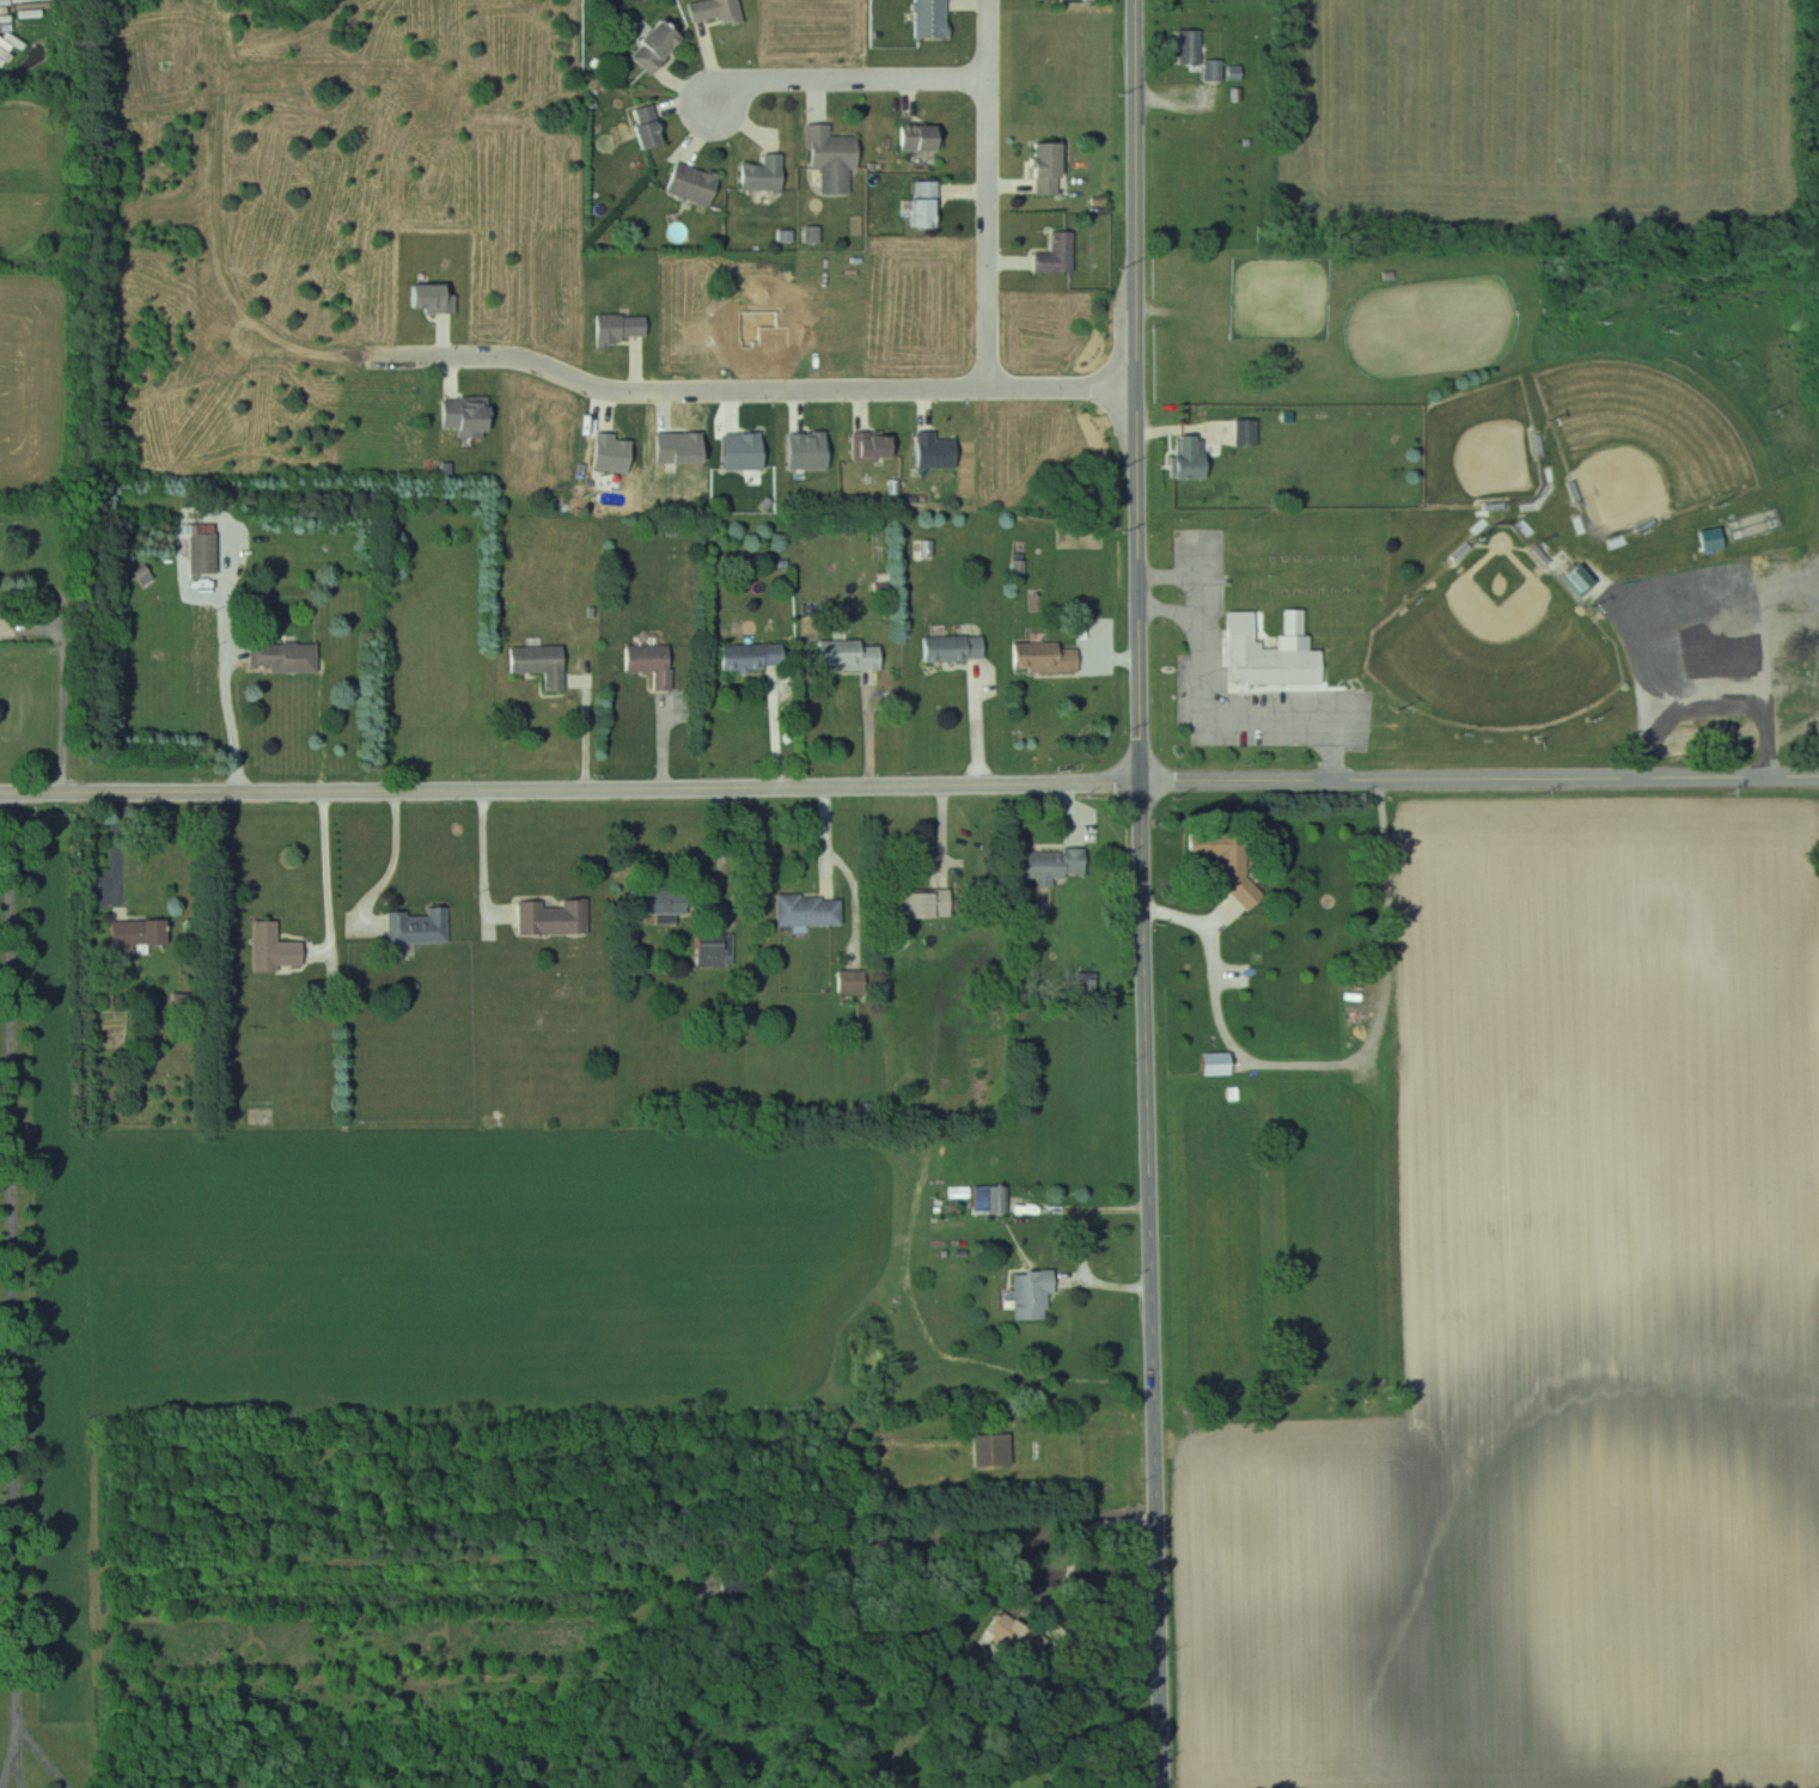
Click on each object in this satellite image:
building: (708, 11)
building: (927, 19)
building: (651, 44)
road: (987, 45)
building: (1186, 47)
building: (1211, 71)
building: (1232, 72)
road: (860, 91)
building: (642, 128)
building: (914, 138)
building: (829, 158)
building: (1040, 167)
building: (761, 175)
building: (689, 184)
building: (920, 206)
road: (988, 244)
building: (1054, 256)
building: (627, 330)
road: (1137, 391)
road: (751, 401)
building: (474, 416)
building: (1244, 432)
building: (1185, 457)
building: (1709, 539)
building: (206, 551)
building: (1576, 578)
road: (1699, 596)
road: (1200, 608)
building: (958, 647)
building: (855, 654)
building: (288, 655)
building: (757, 655)
building: (1270, 655)
building: (1050, 657)
building: (657, 663)
building: (544, 664)
road: (63, 682)
road: (232, 719)
road: (1233, 732)
road: (1479, 779)
road: (570, 789)
road: (484, 856)
building: (1220, 856)
road: (395, 861)
building: (1057, 865)
road: (328, 871)
building: (927, 904)
building: (813, 911)
building: (556, 917)
building: (421, 926)
building: (145, 932)
building: (277, 948)
building: (718, 950)
building: (856, 982)
building: (1222, 1064)
road: (1339, 1064)
building: (994, 1198)
road: (1091, 1219)
road: (12, 1274)
road: (1153, 1286)
building: (1037, 1294)
building: (995, 1451)
road: (1079, 1546)
road: (41, 1751)
road: (8, 1771)
road: (18, 1771)

